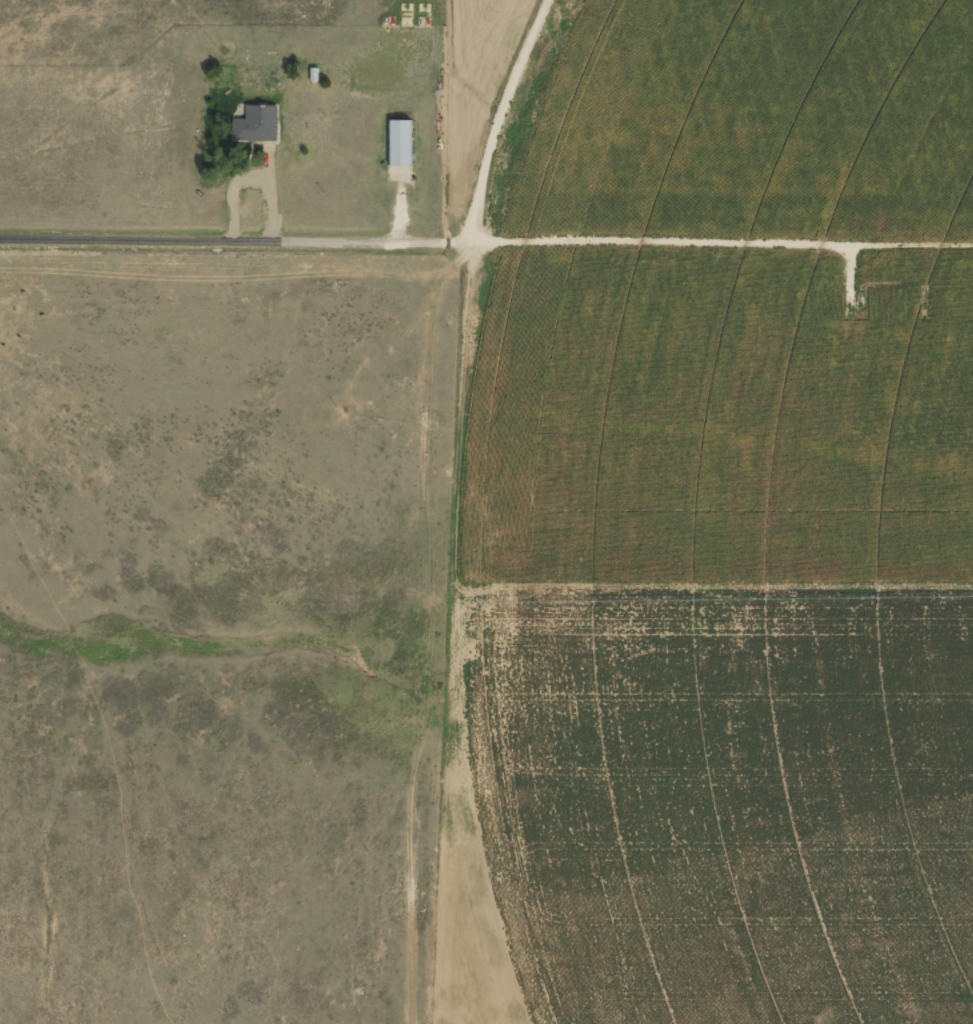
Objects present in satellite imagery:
building: (392, 157)
road: (361, 241)

